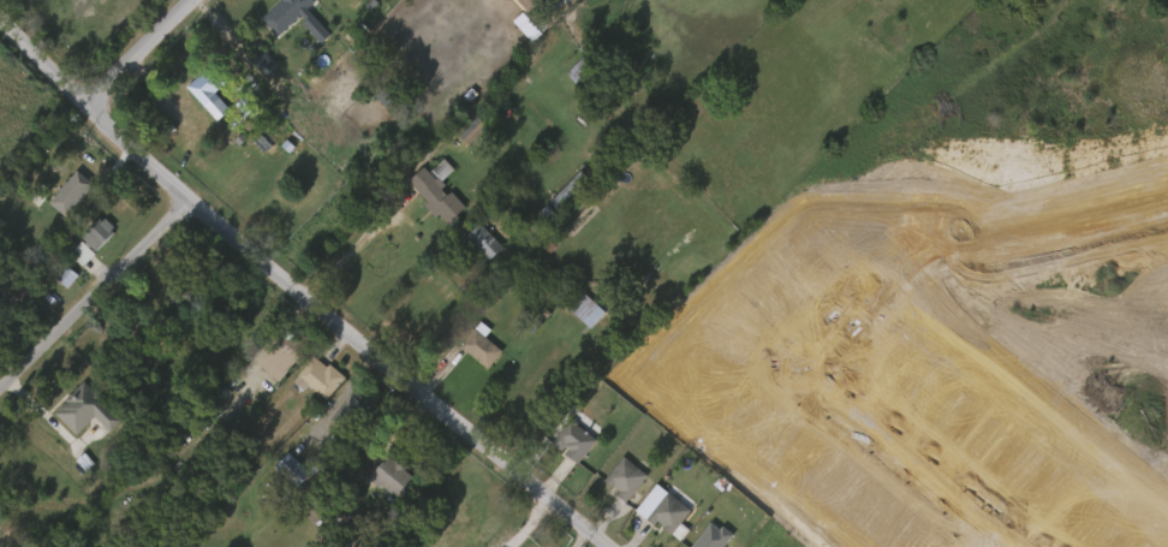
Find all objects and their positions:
building: (513, 5)
building: (546, 11)
building: (285, 16)
road: (139, 52)
building: (252, 67)
building: (588, 75)
building: (207, 84)
building: (205, 111)
building: (475, 129)
building: (460, 133)
building: (571, 189)
building: (75, 191)
building: (440, 191)
building: (91, 242)
building: (488, 243)
road: (352, 244)
building: (472, 244)
building: (70, 256)
building: (55, 279)
road: (299, 290)
road: (96, 298)
building: (586, 309)
building: (576, 314)
building: (482, 345)
building: (469, 350)
building: (287, 355)
building: (268, 362)
building: (320, 377)
building: (85, 409)
building: (354, 409)
building: (577, 440)
building: (562, 444)
building: (292, 470)
building: (280, 472)
building: (393, 477)
building: (628, 478)
building: (613, 482)
building: (651, 512)
building: (671, 513)
building: (329, 517)
road: (523, 519)

